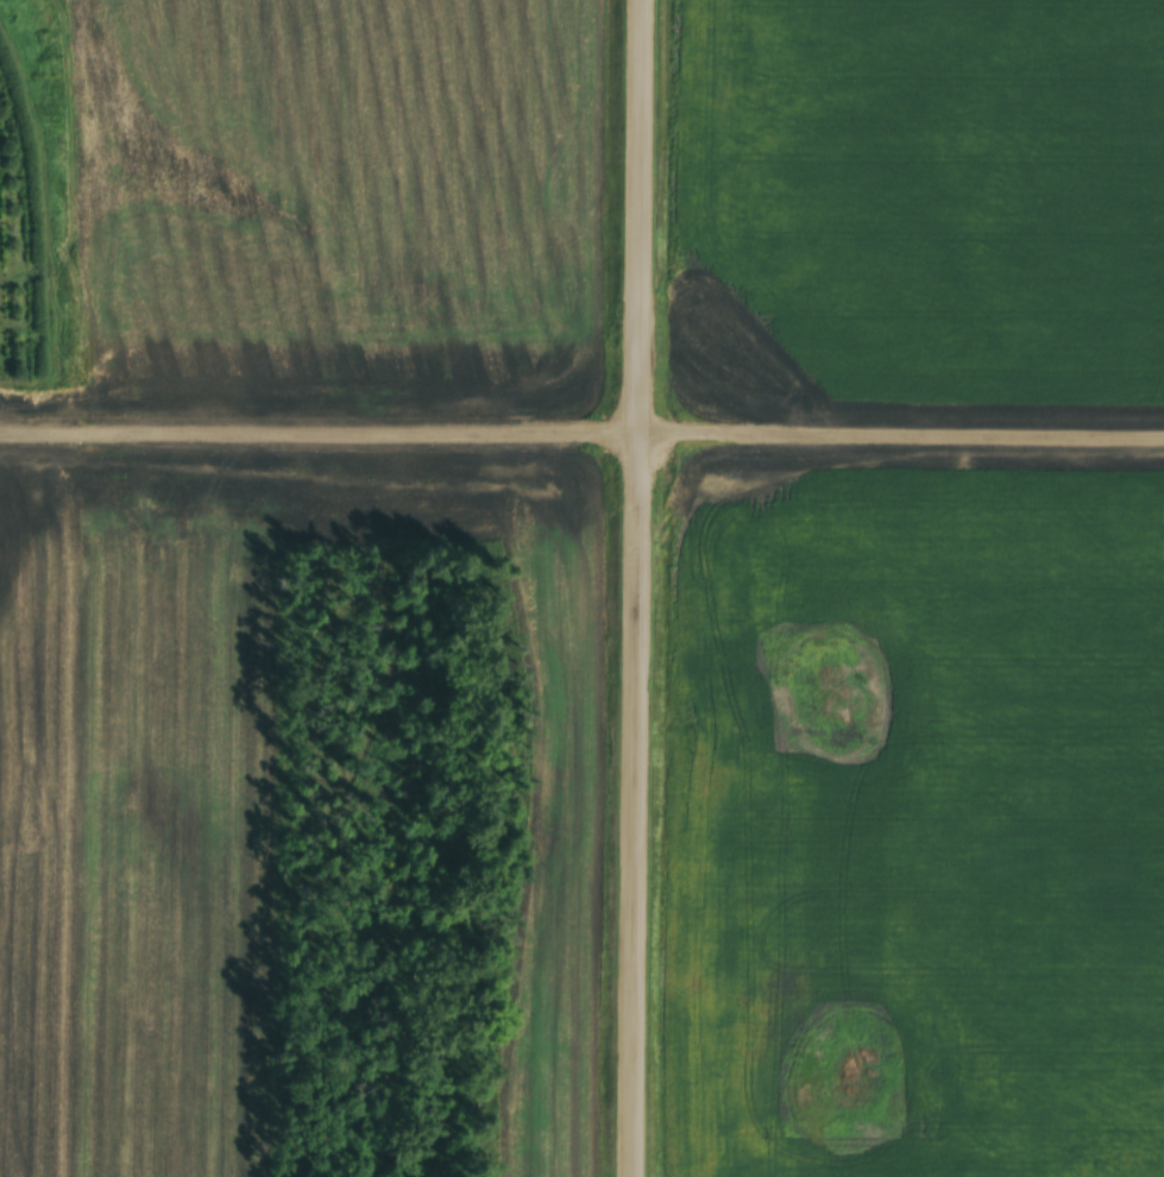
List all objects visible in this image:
road: (642, 588)

